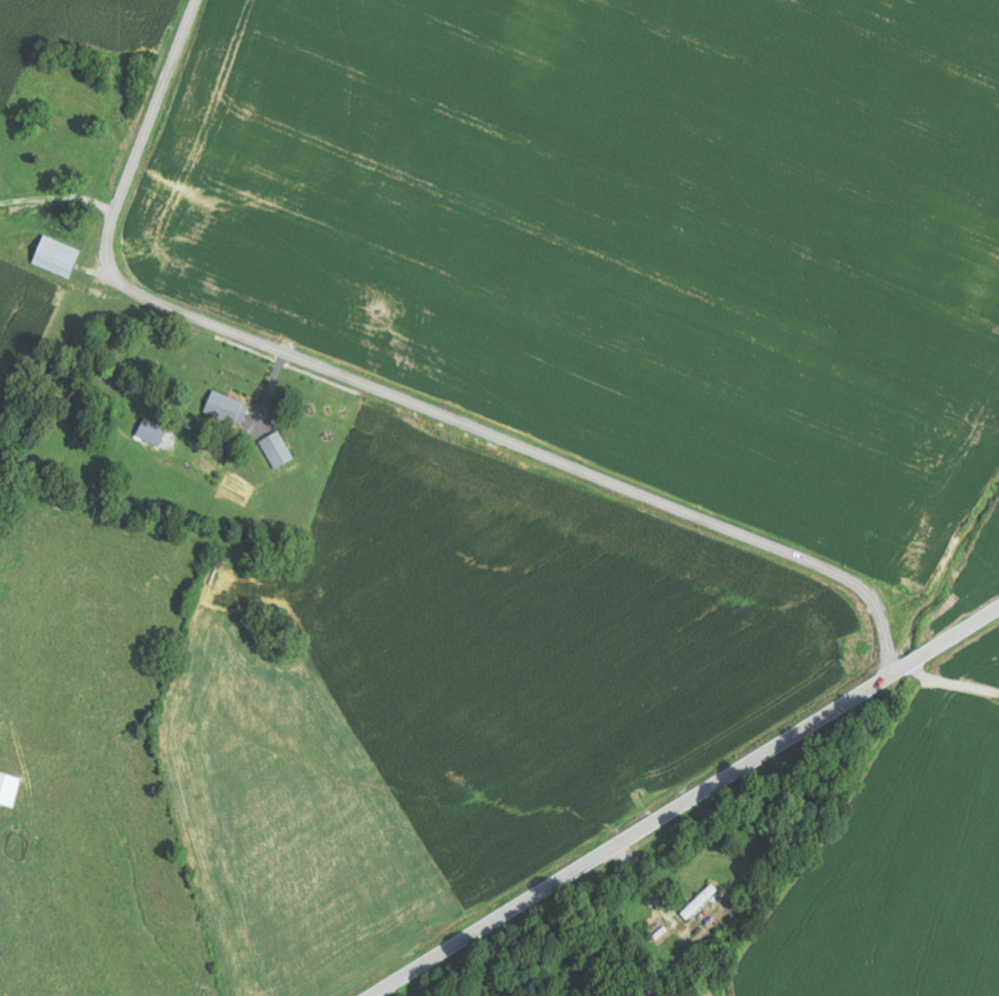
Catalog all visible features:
building: (55, 256)
road: (395, 397)
building: (228, 408)
building: (151, 432)
building: (277, 449)
road: (952, 683)
building: (10, 791)
road: (685, 802)

